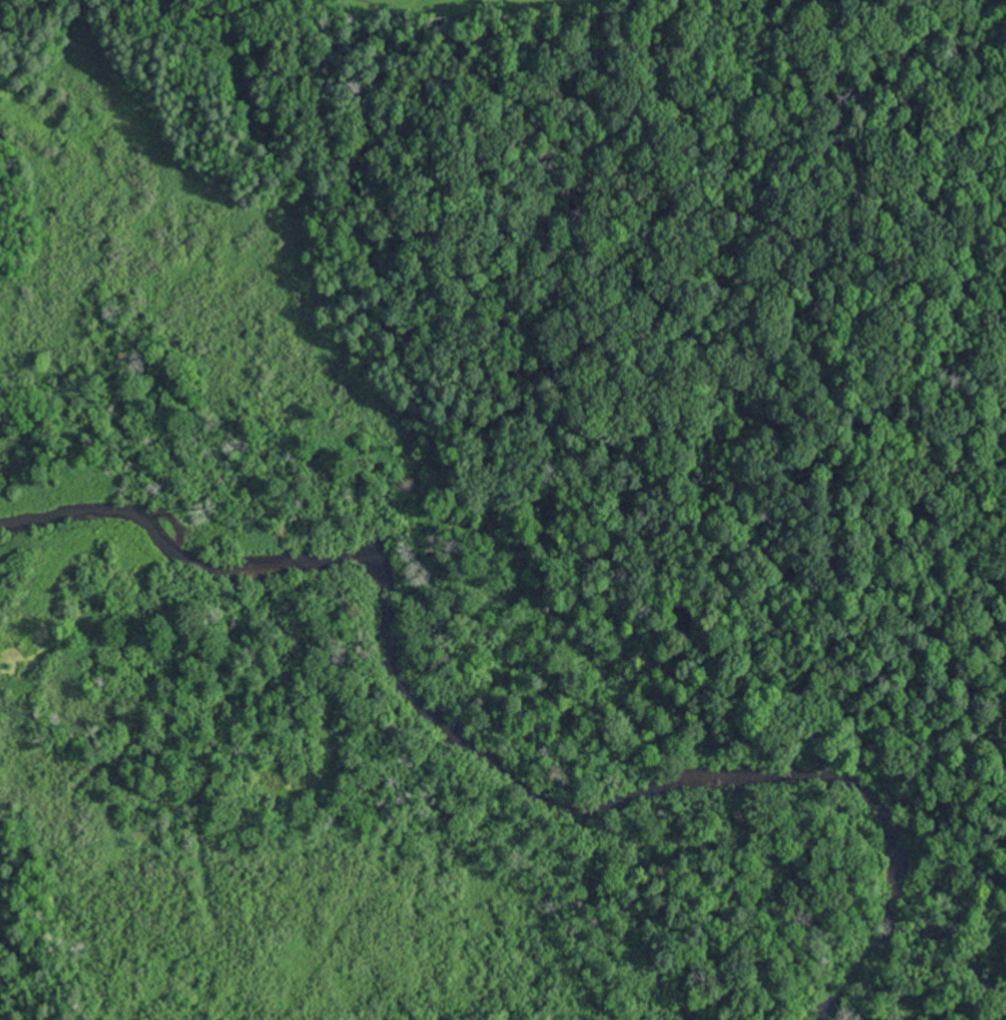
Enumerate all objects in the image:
river: (481, 772)

